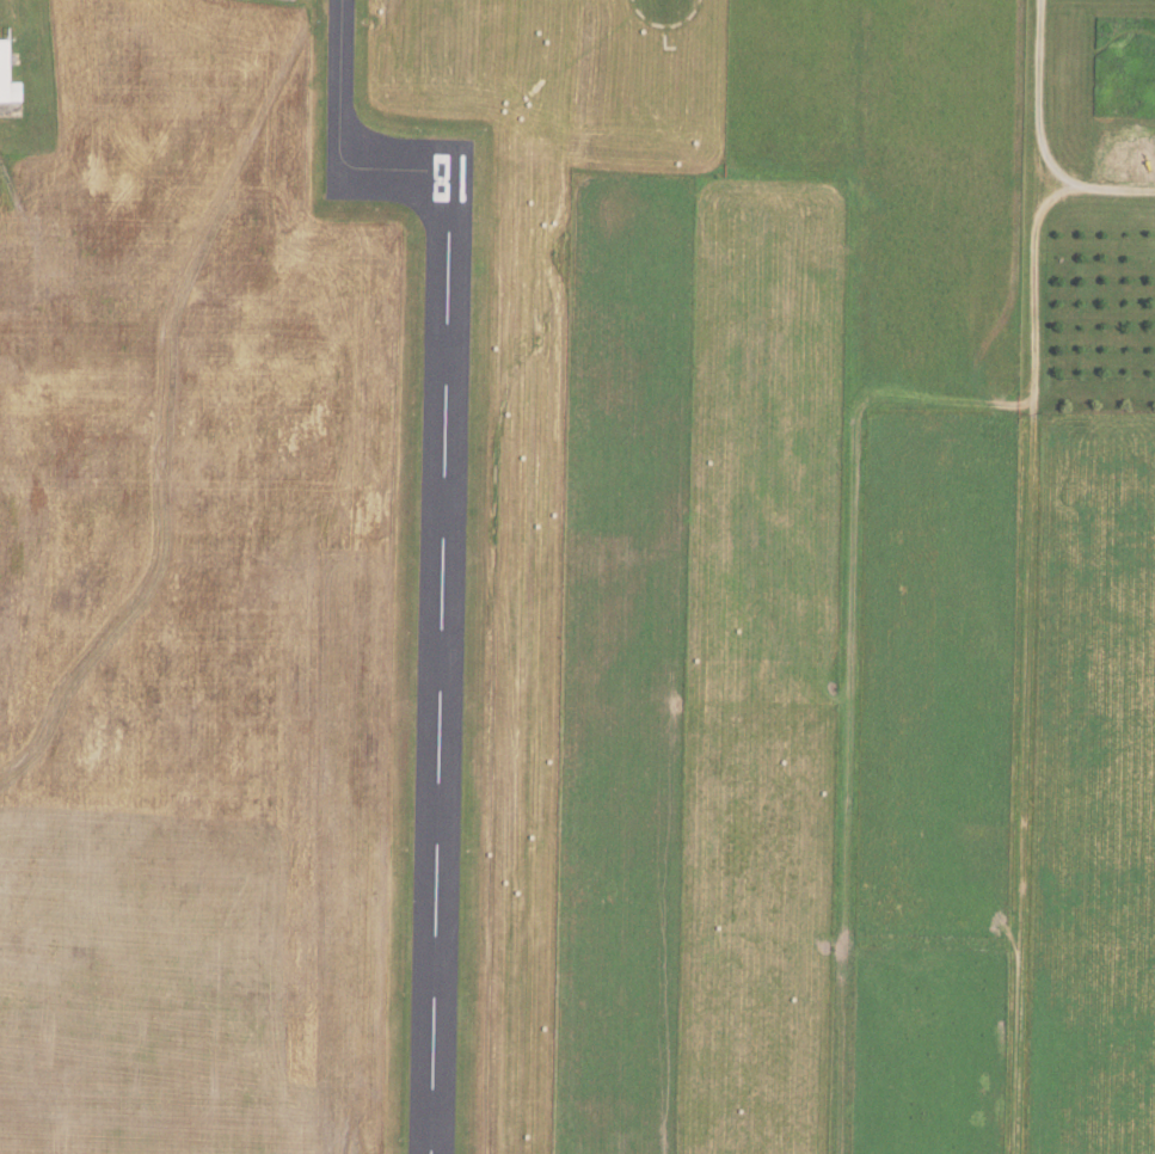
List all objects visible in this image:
airport taxiway: (349, 136)
road: (1037, 140)
airport runway: (440, 664)

